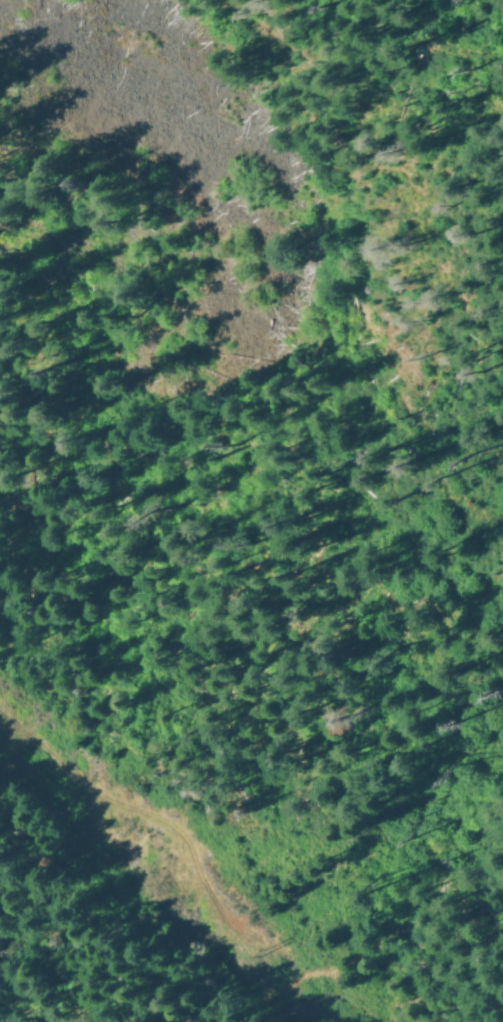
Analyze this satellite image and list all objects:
road: (347, 961)
road: (67, 982)

